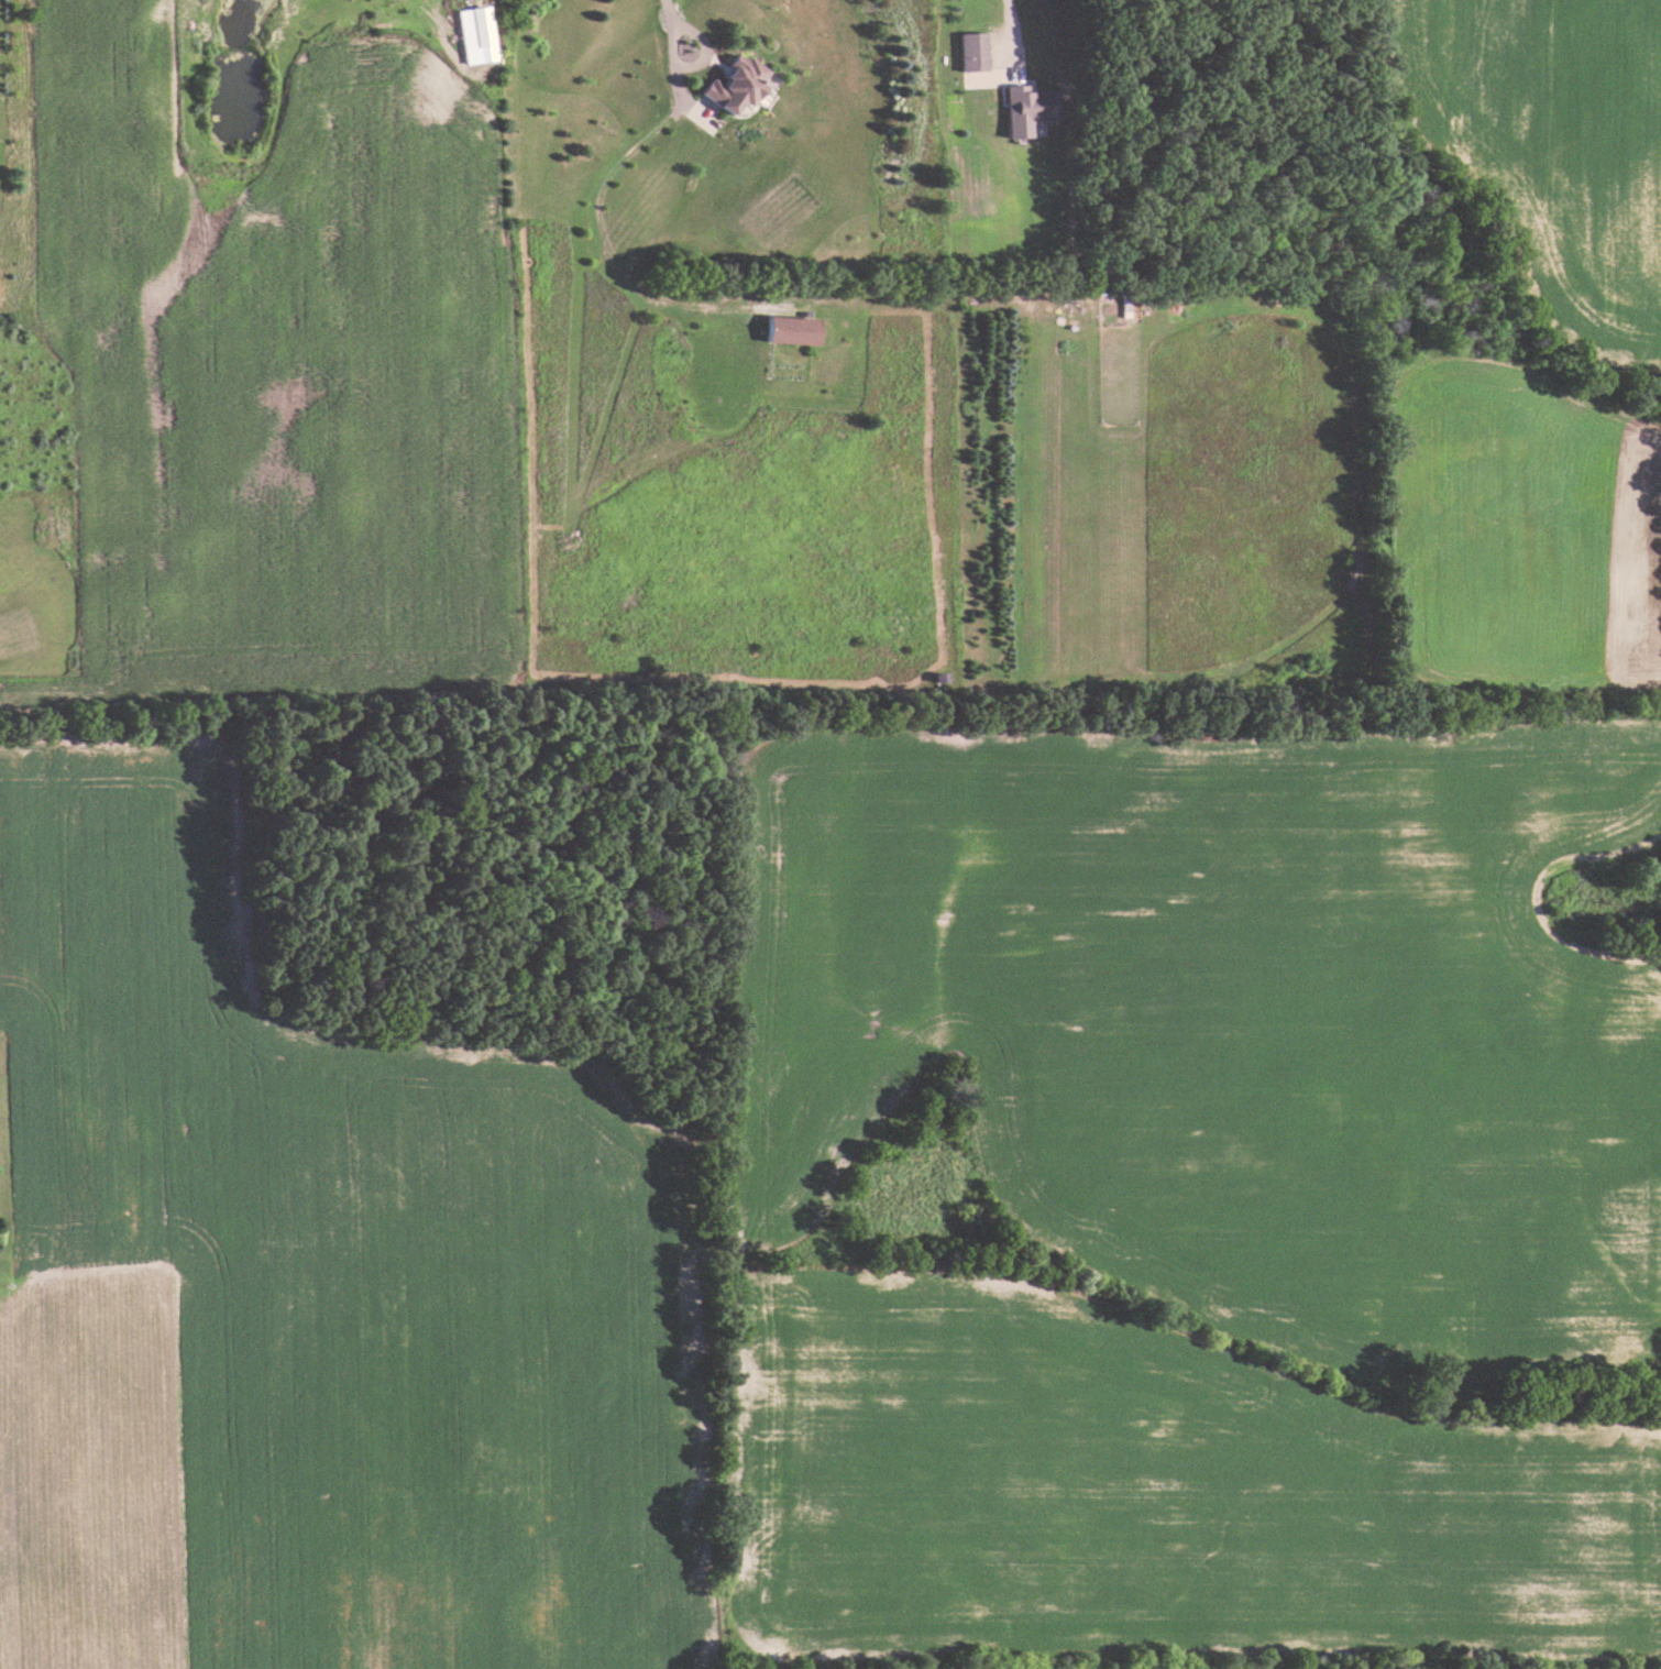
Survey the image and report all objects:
road: (671, 12)
road: (1026, 24)
building: (974, 53)
road: (696, 62)
building: (737, 87)
building: (1031, 111)
building: (793, 331)

